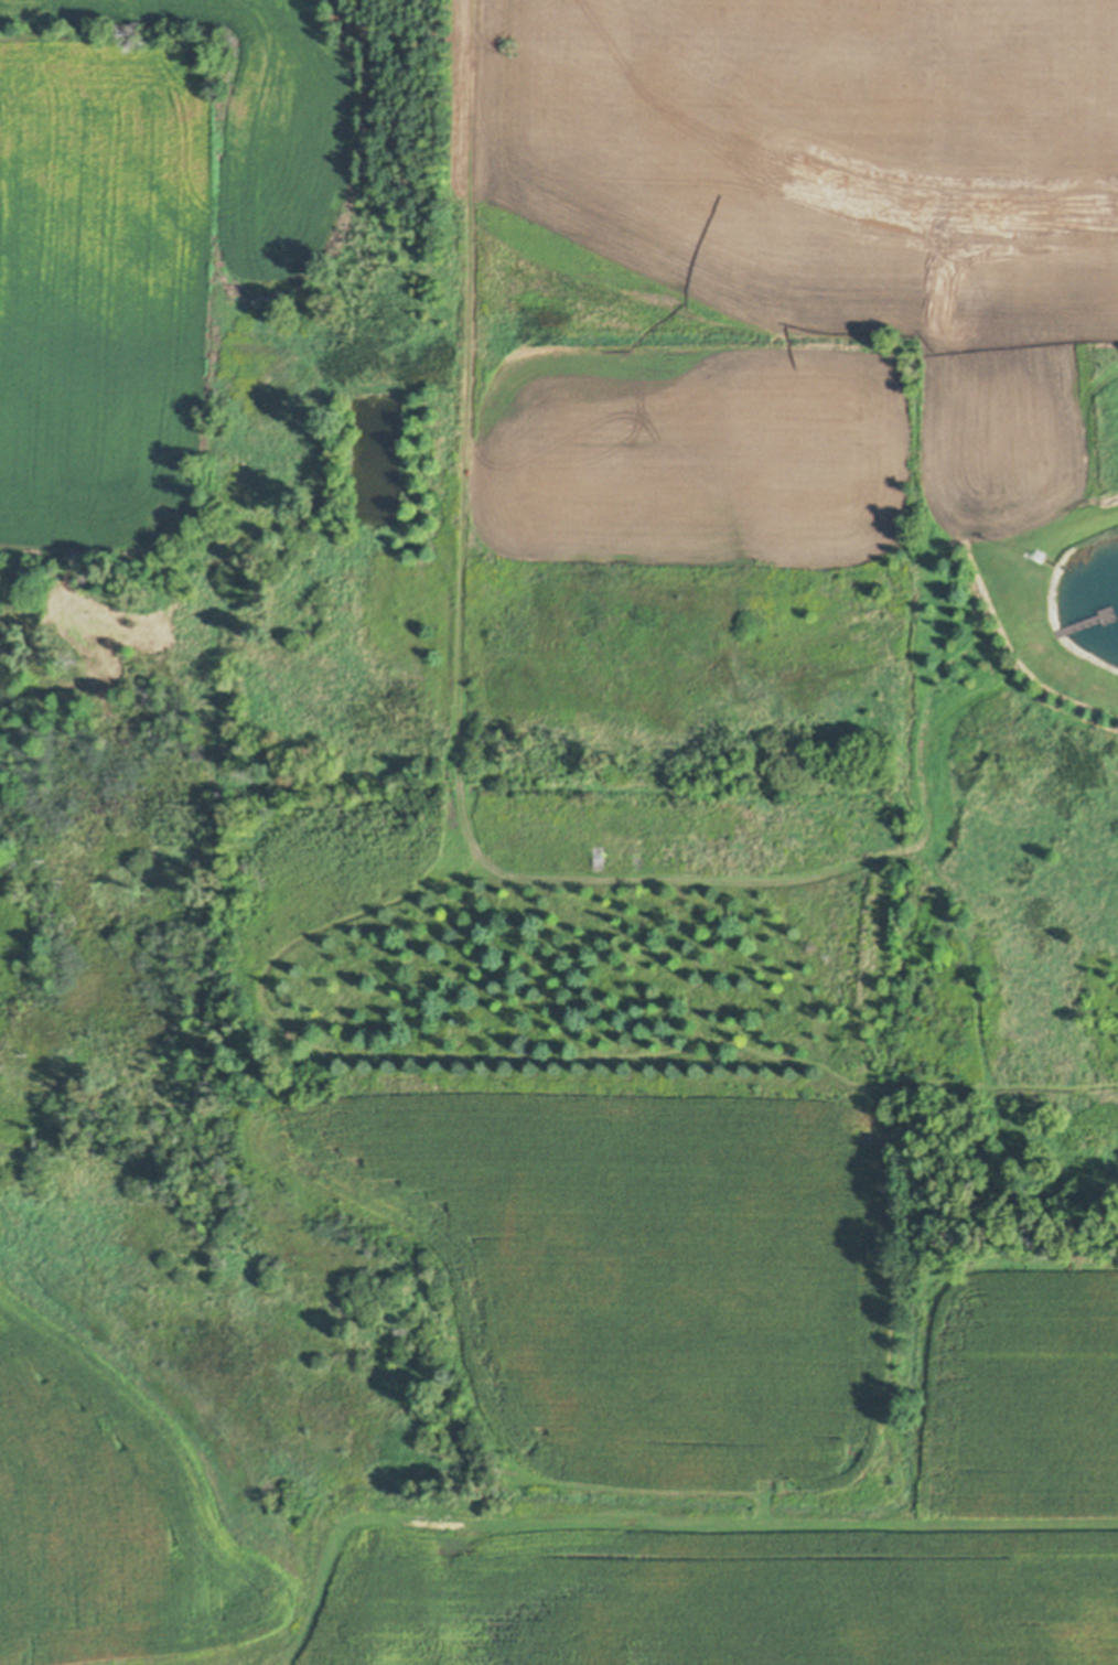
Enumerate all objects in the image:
crop: (146, 228)
crop: (626, 1420)

